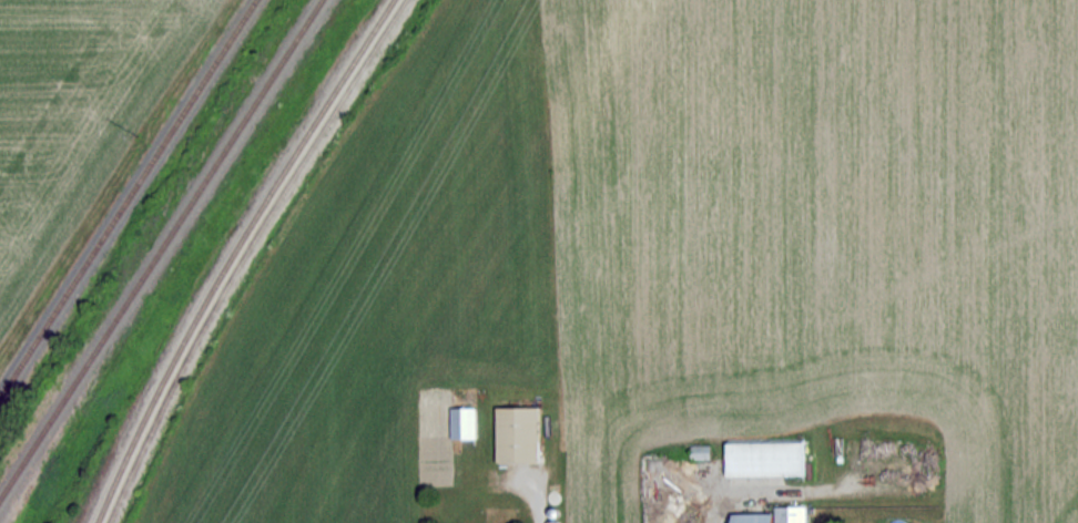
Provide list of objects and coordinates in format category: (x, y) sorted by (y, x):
railway: (126, 196)
railway: (159, 247)
railway: (231, 254)
railway: (243, 254)
crop: (673, 255)
building: (462, 422)
building: (517, 434)
building: (700, 451)
building: (765, 459)
road: (532, 506)
building: (790, 514)
building: (753, 517)

